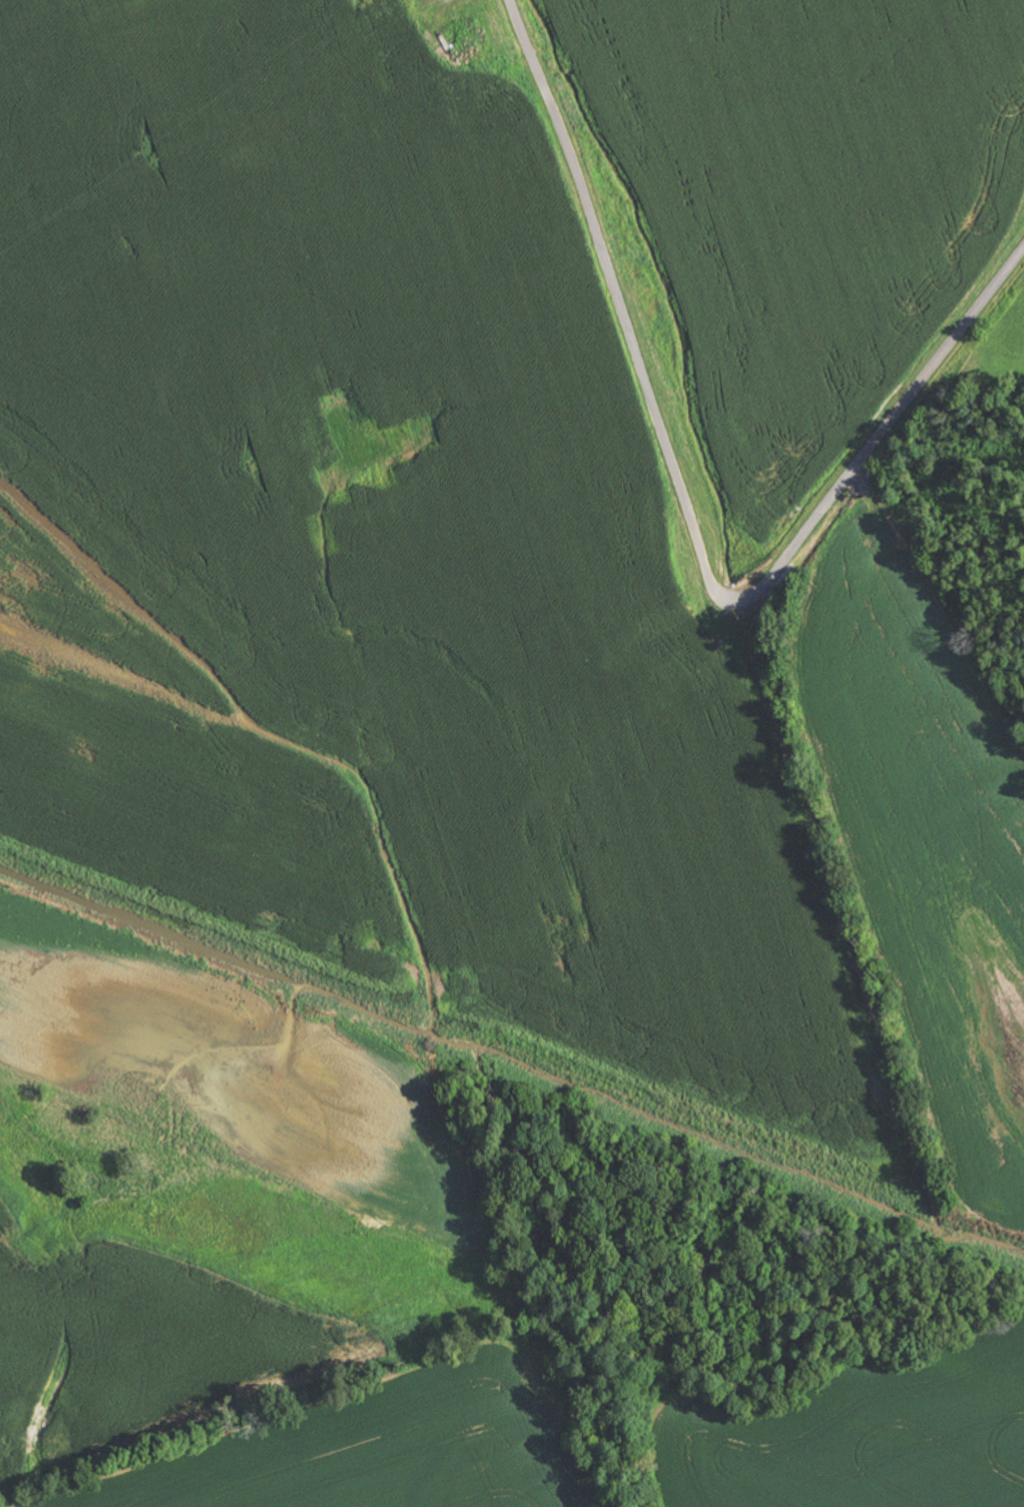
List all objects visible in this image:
road: (690, 526)

